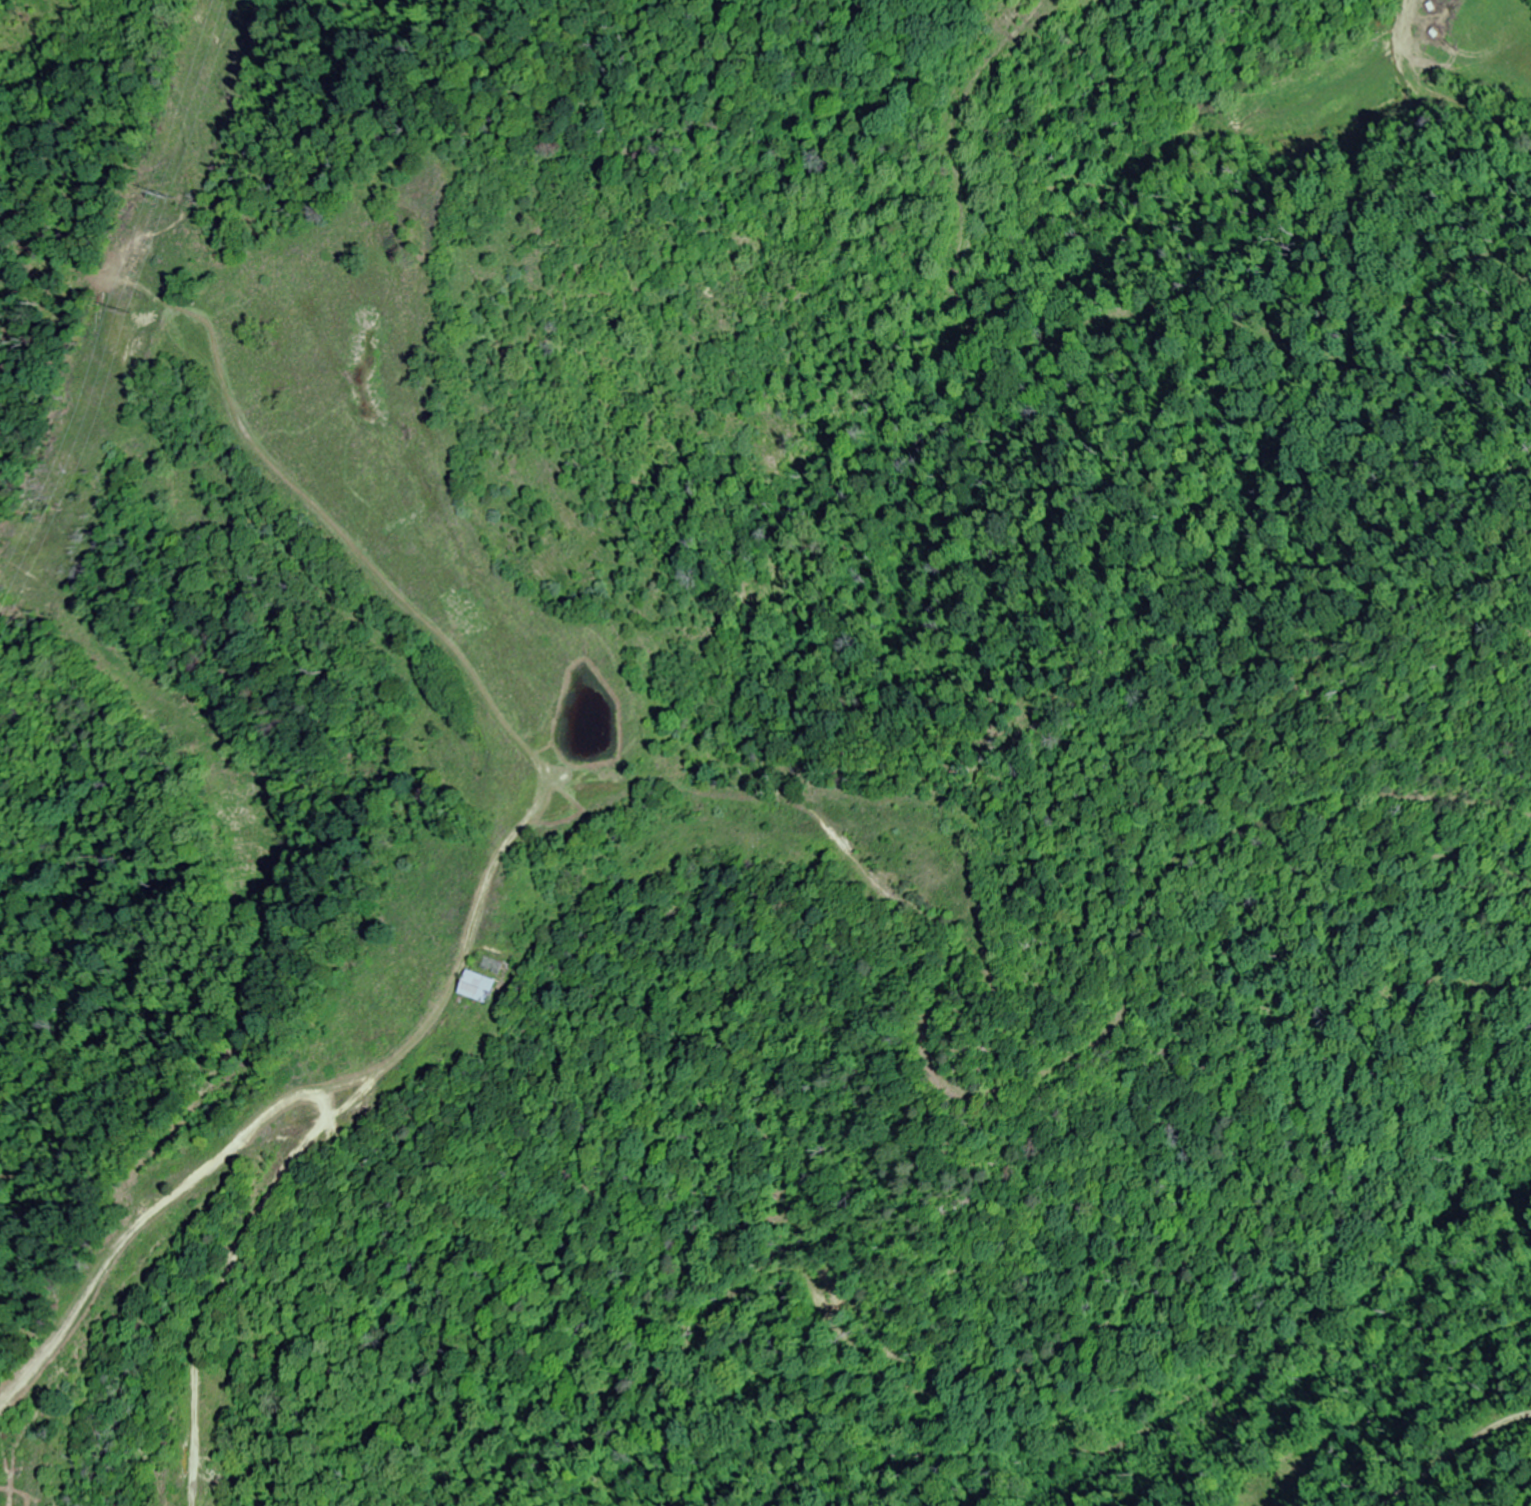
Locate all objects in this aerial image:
power tower: (186, 194)
building: (474, 987)

